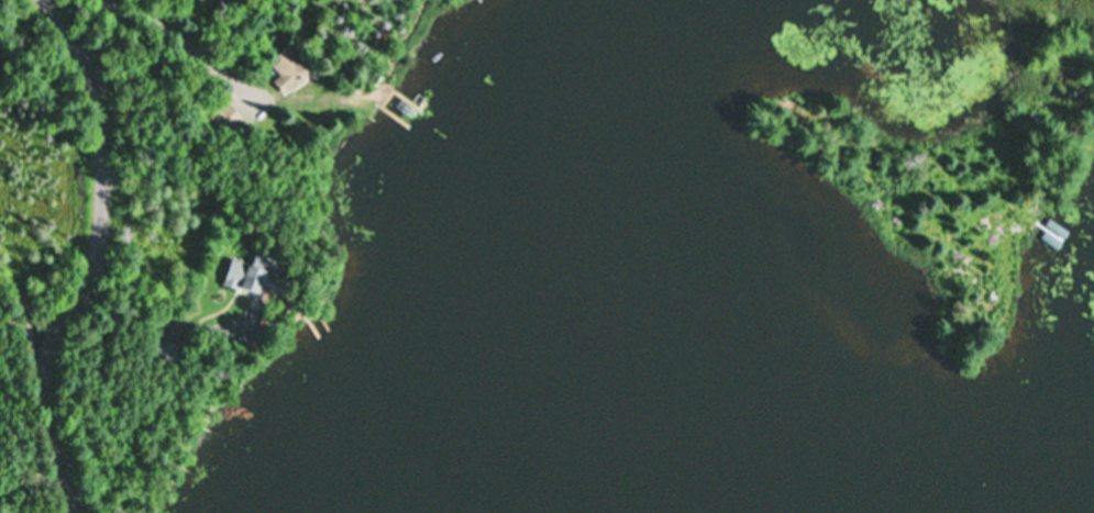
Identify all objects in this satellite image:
building: (289, 71)
road: (96, 258)
building: (248, 279)
river: (566, 342)
building: (165, 353)

